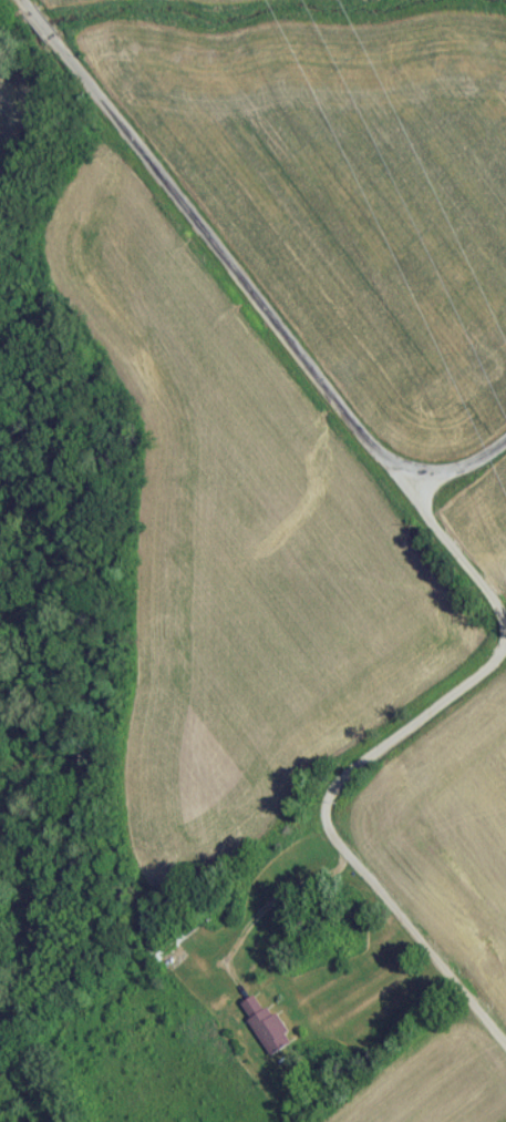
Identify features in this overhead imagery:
road: (214, 243)
road: (459, 471)
road: (370, 759)
road: (277, 899)
building: (268, 1029)

